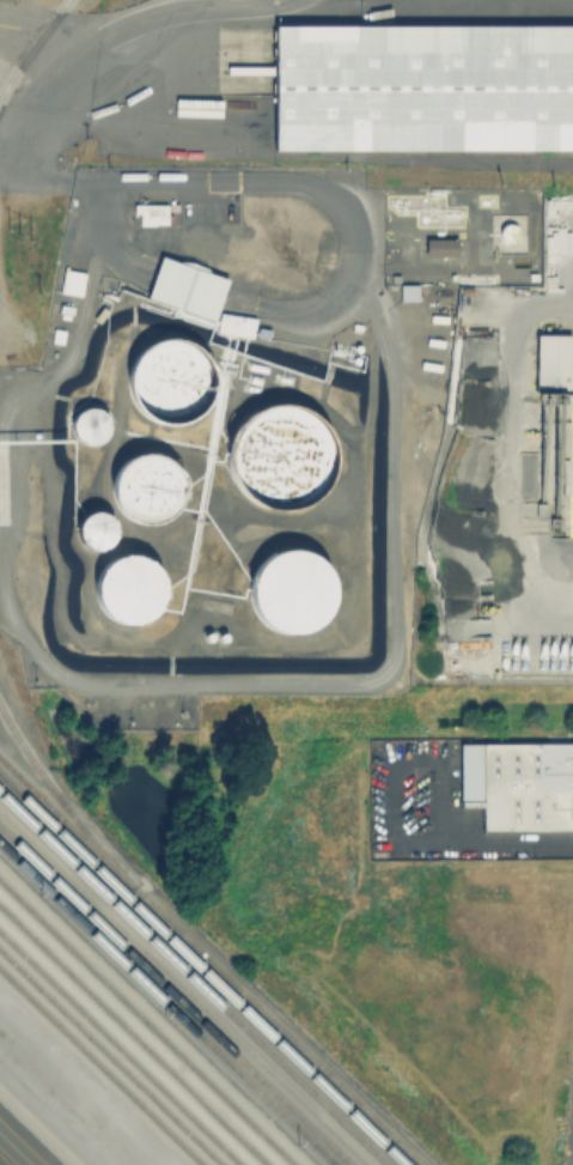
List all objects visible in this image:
road: (110, 36)
railway: (31, 51)
building: (425, 89)
building: (441, 249)
building: (188, 290)
building: (410, 293)
building: (236, 327)
building: (555, 362)
road: (513, 371)
road: (556, 599)
road: (392, 762)
building: (520, 787)
railway: (63, 802)
road: (507, 839)
railway: (212, 960)
railway: (202, 969)
railway: (195, 976)
railway: (183, 988)
railway: (176, 995)
railway: (166, 1003)
railway: (157, 1013)
railway: (146, 1021)
railway: (133, 1036)
railway: (120, 1048)
railway: (110, 1057)
railway: (96, 1069)
wastewater plant: (568, 1112)
railway: (39, 1127)
road: (17, 1147)

